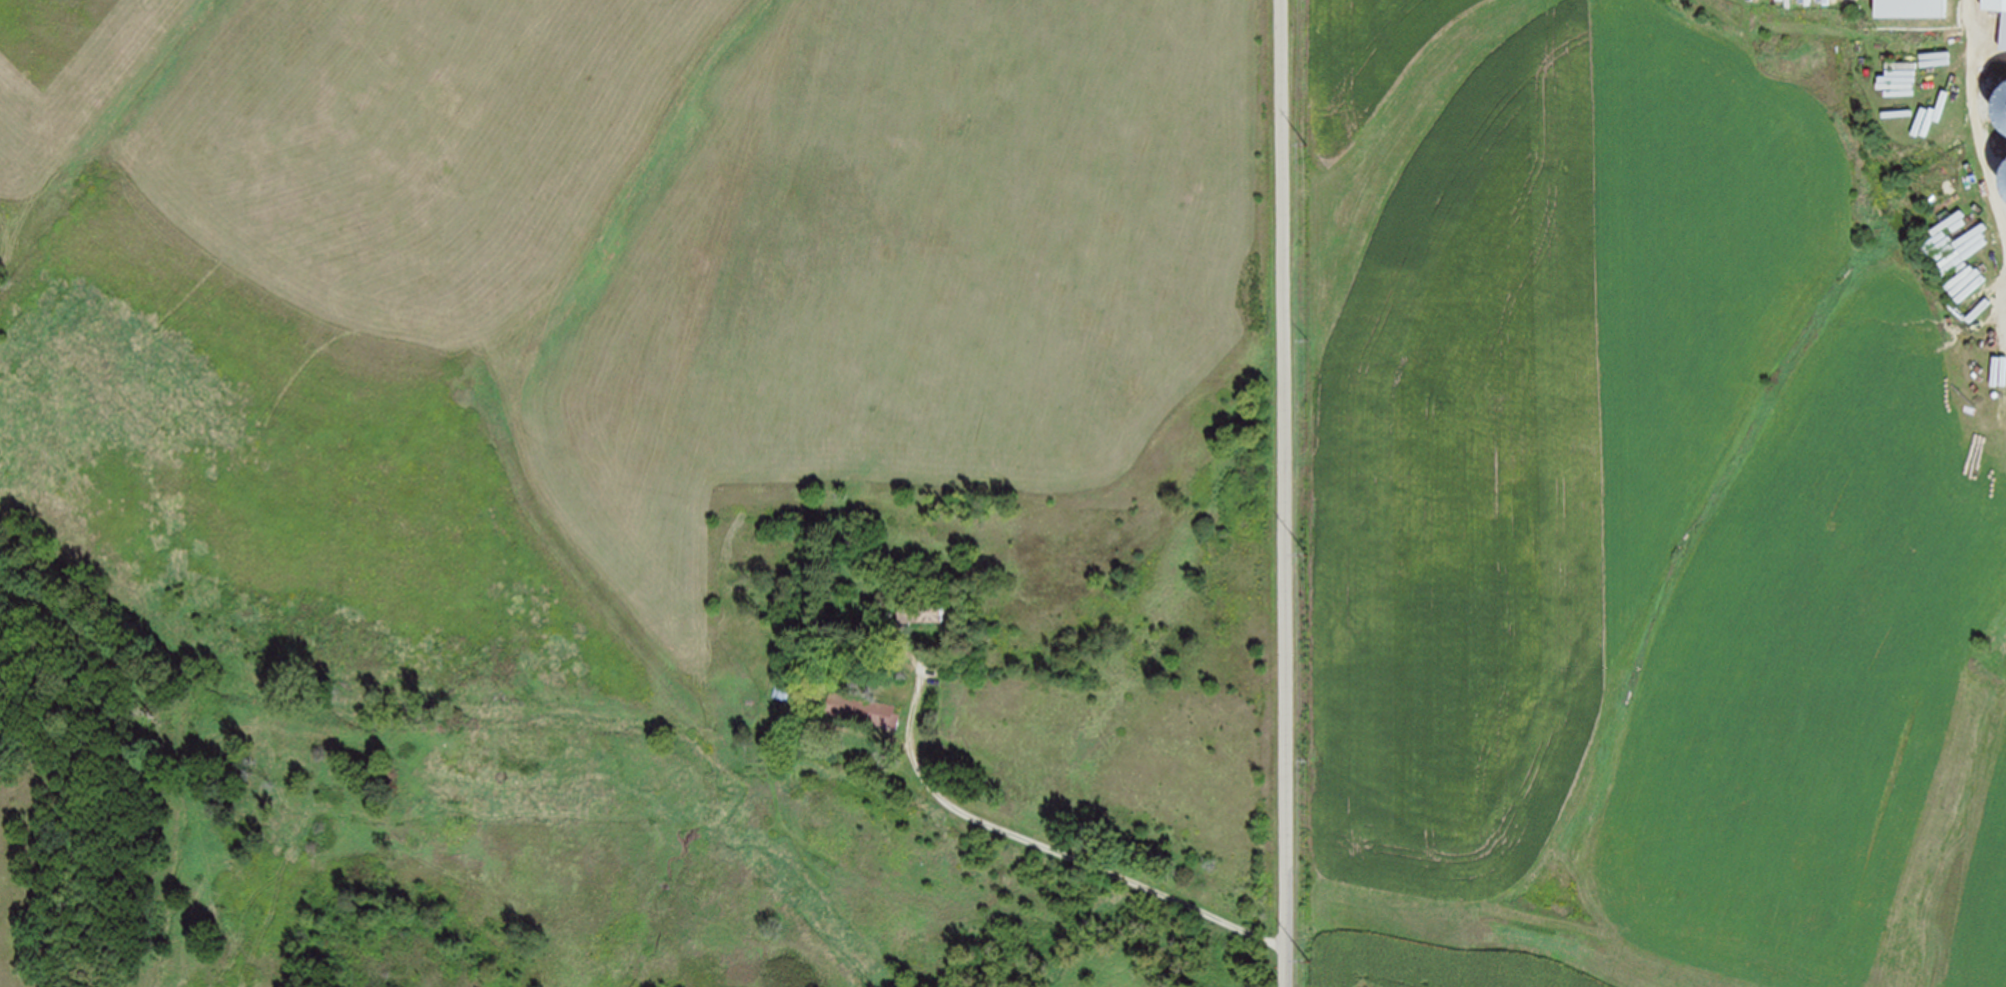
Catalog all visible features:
building: (1911, 8)
building: (2004, 30)
building: (2003, 110)
road: (1982, 120)
building: (2003, 172)
road: (1286, 493)
building: (923, 610)
building: (789, 689)
building: (862, 710)
road: (1046, 847)

